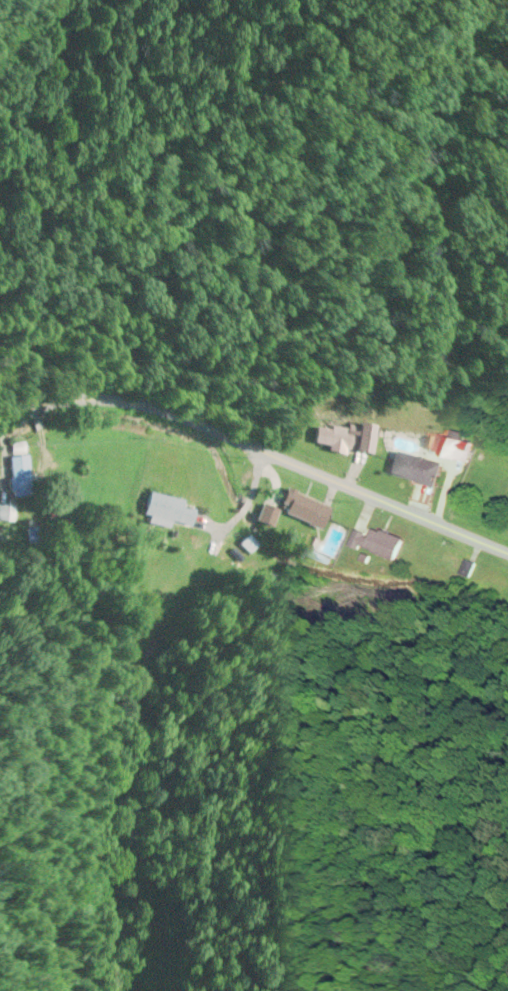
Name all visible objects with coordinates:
building: (350, 439)
road: (257, 444)
building: (458, 448)
building: (420, 469)
building: (20, 471)
building: (307, 510)
building: (169, 514)
building: (269, 516)
building: (380, 545)

